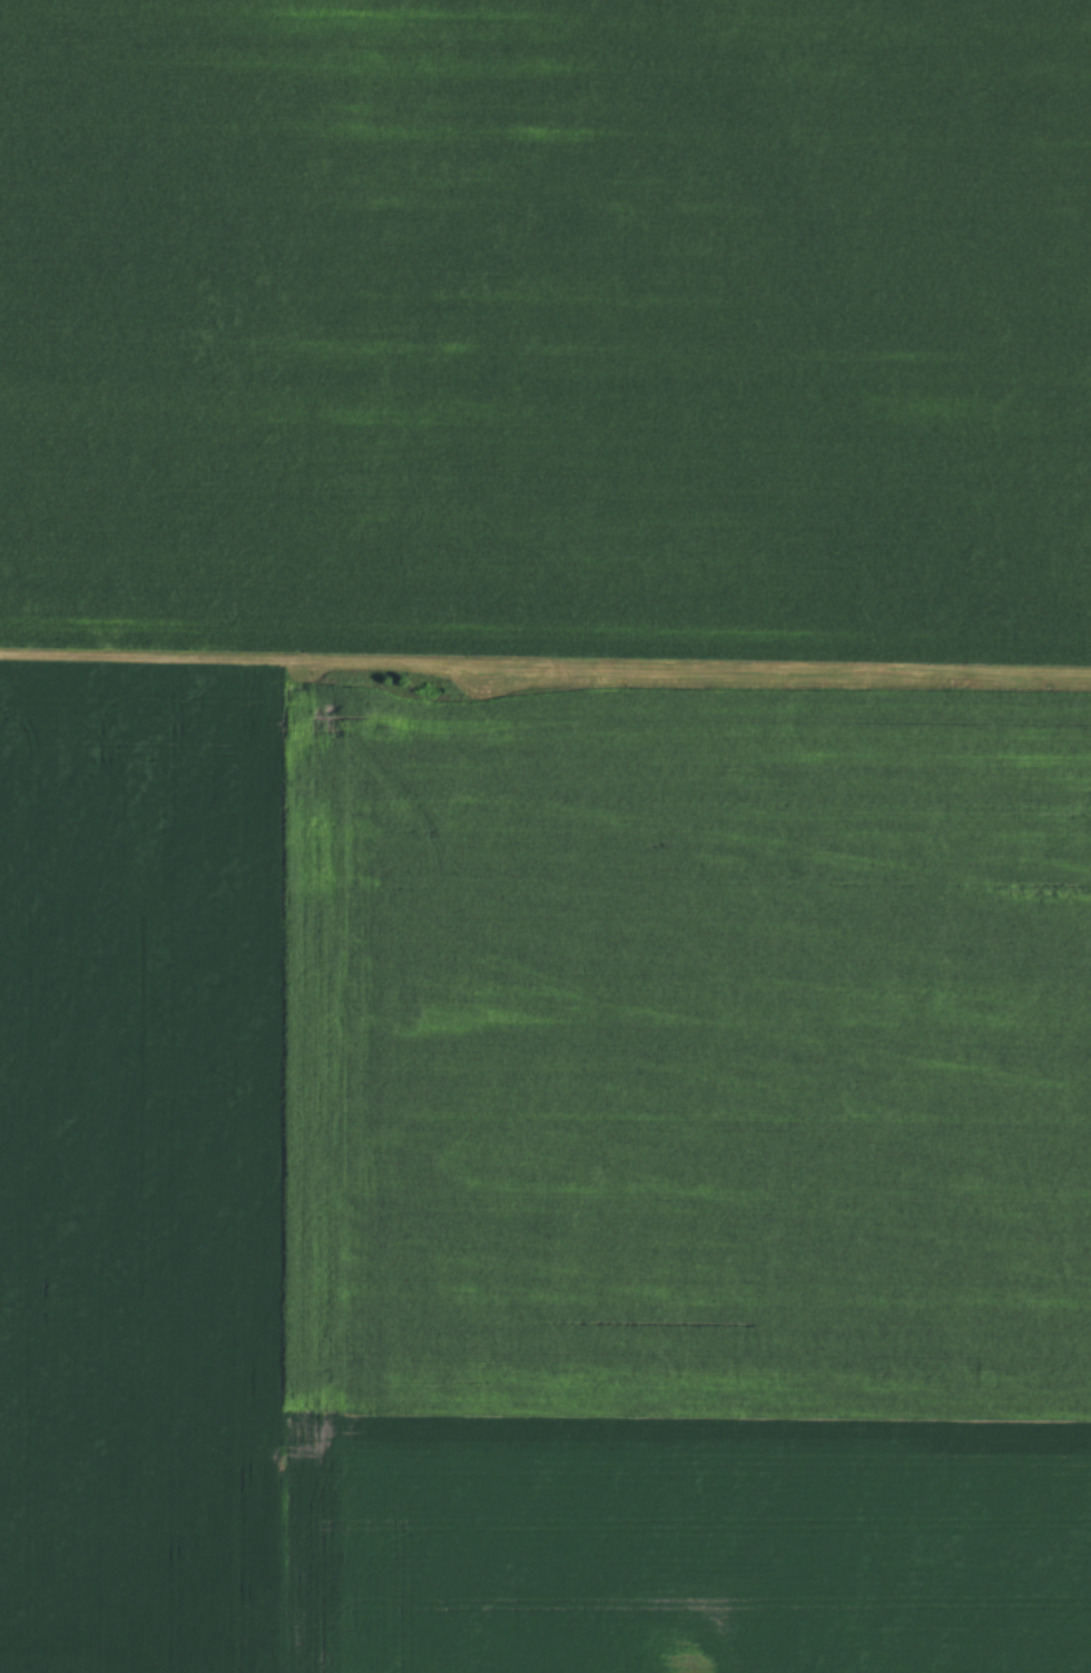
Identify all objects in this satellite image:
road: (544, 662)

